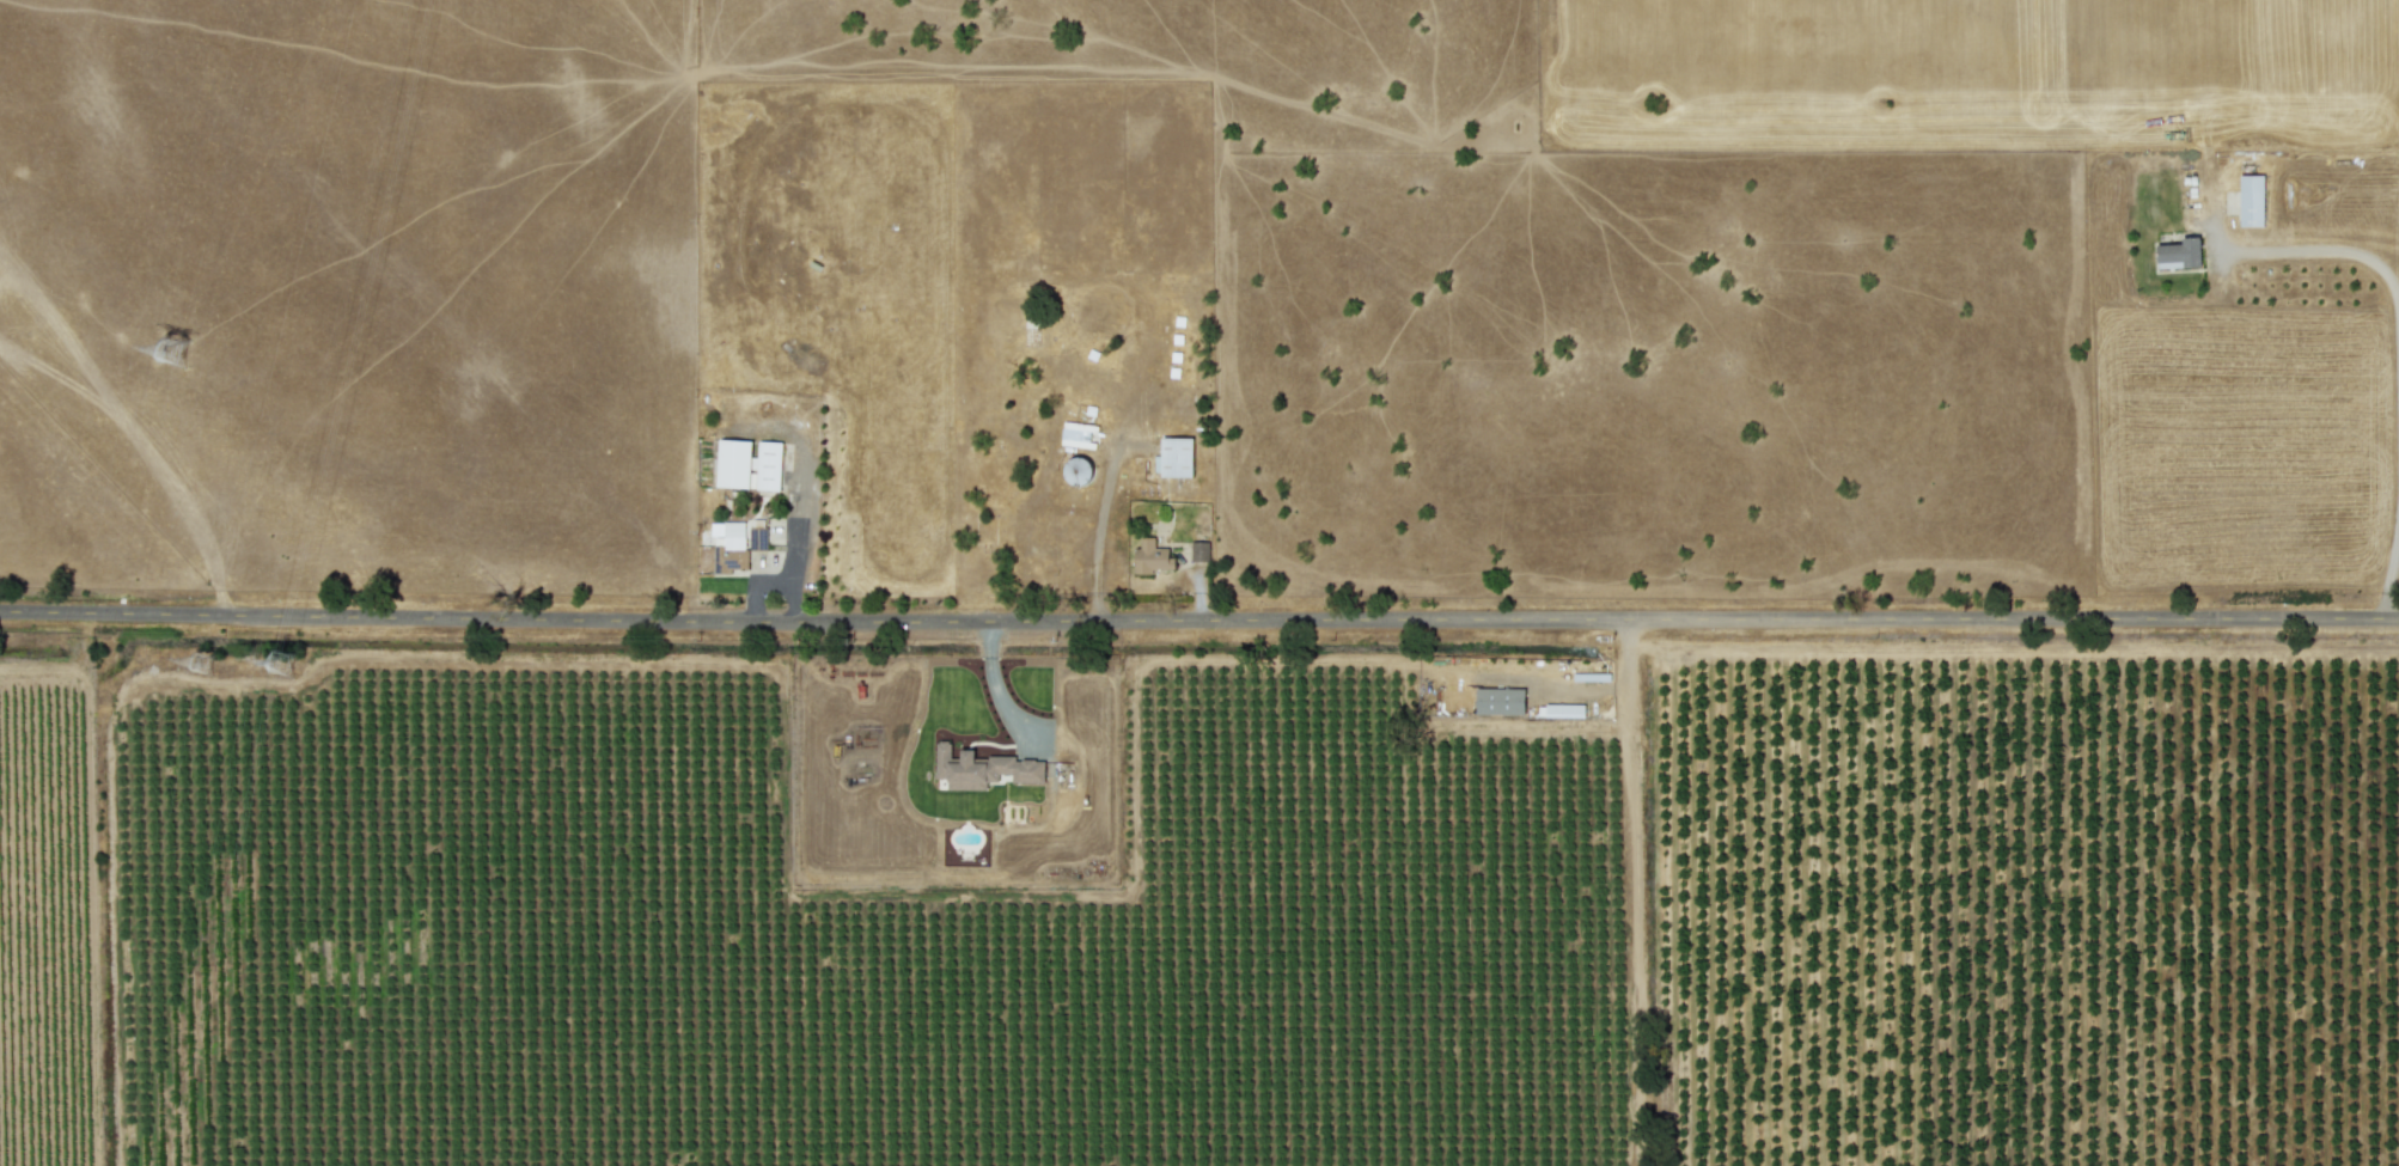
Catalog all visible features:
building: (2251, 200)
road: (2344, 250)
building: (2179, 252)
power tower: (178, 355)
building: (1176, 456)
building: (749, 463)
road: (799, 502)
building: (728, 533)
building: (1198, 550)
building: (1152, 556)
road: (2389, 563)
road: (770, 580)
crop: (1199, 582)
road: (1198, 617)
power tower: (195, 665)
power tower: (287, 676)
road: (996, 685)
building: (1500, 700)
building: (1559, 709)
building: (995, 768)
road: (1638, 891)

